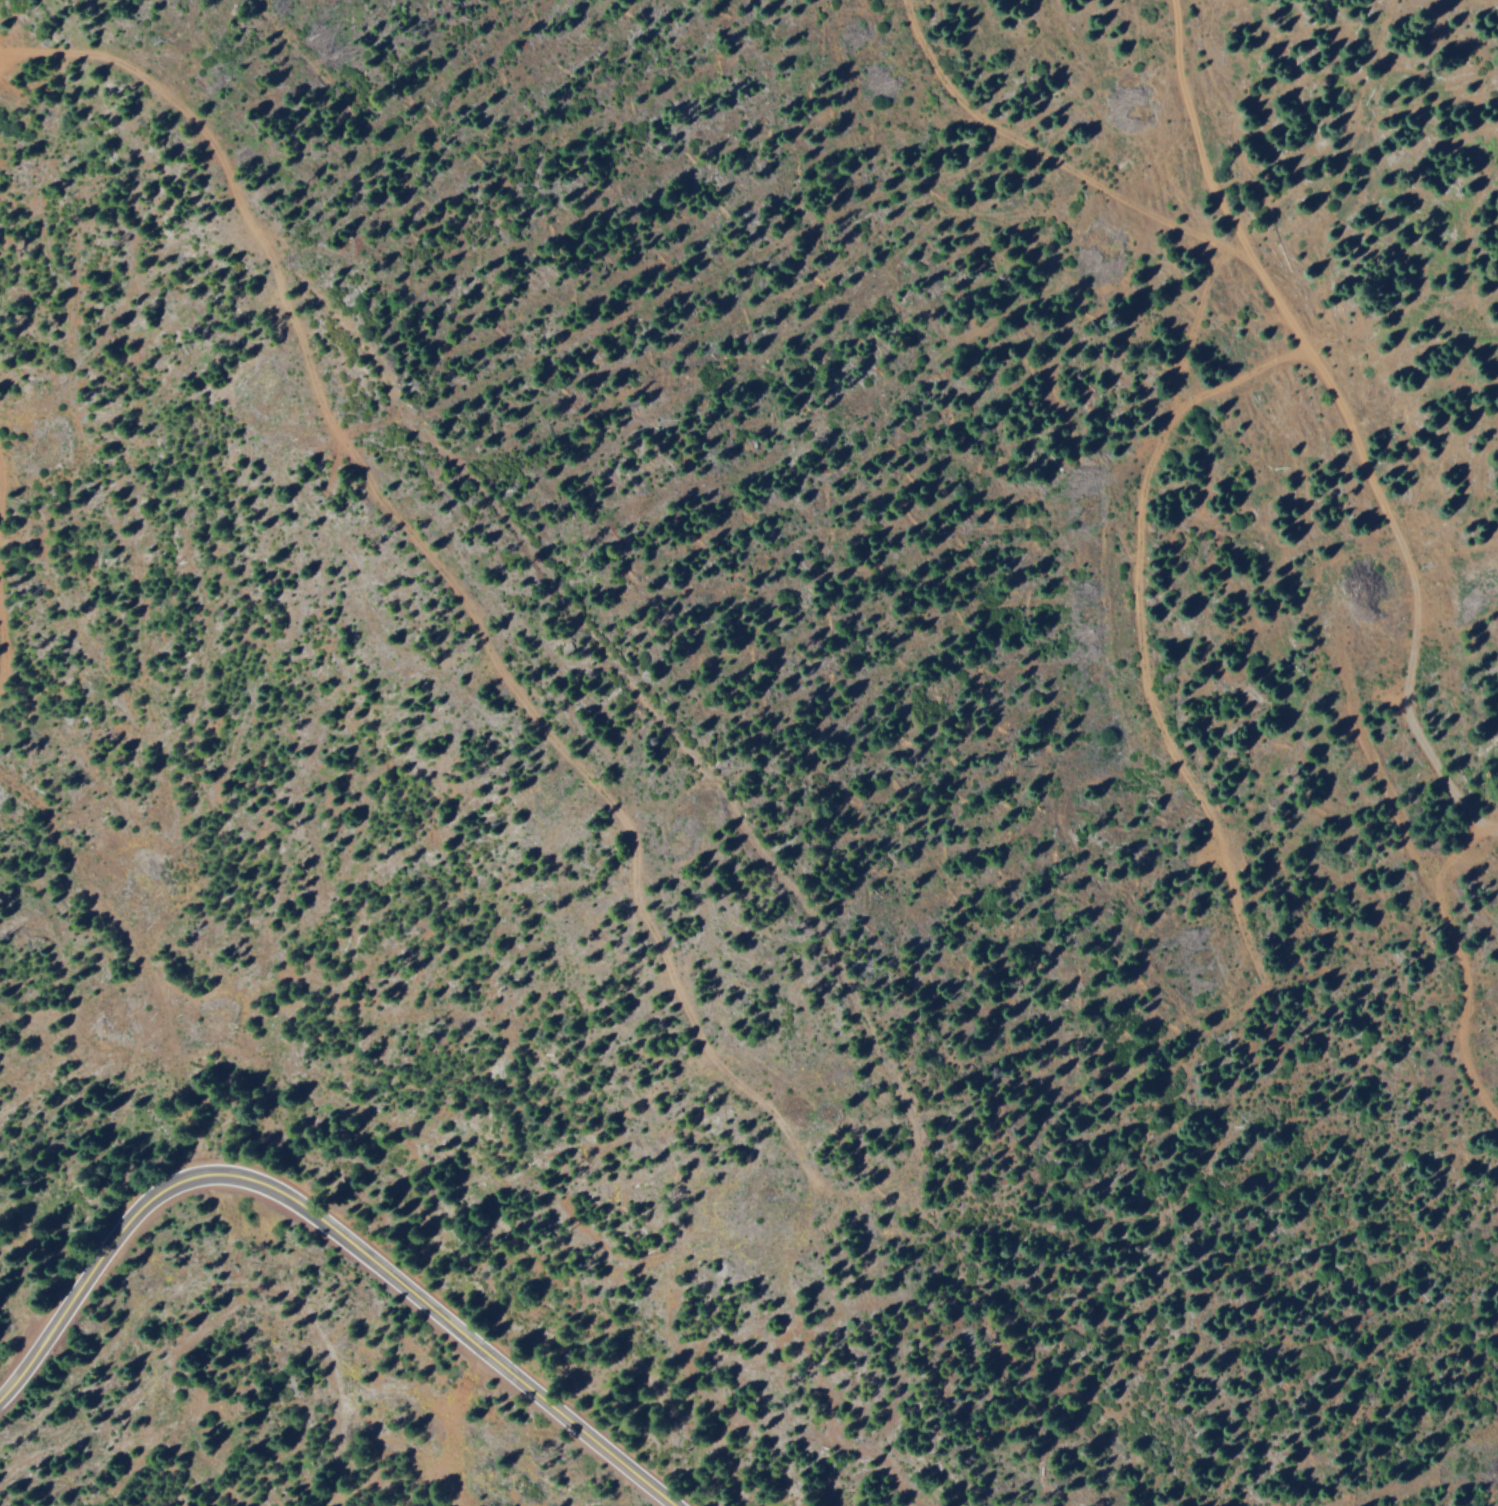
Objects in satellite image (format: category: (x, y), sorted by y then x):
road: (174, 100)
road: (1057, 162)
road: (1346, 418)
road: (1138, 630)
road: (2, 639)
road: (886, 1191)
road: (328, 1224)

